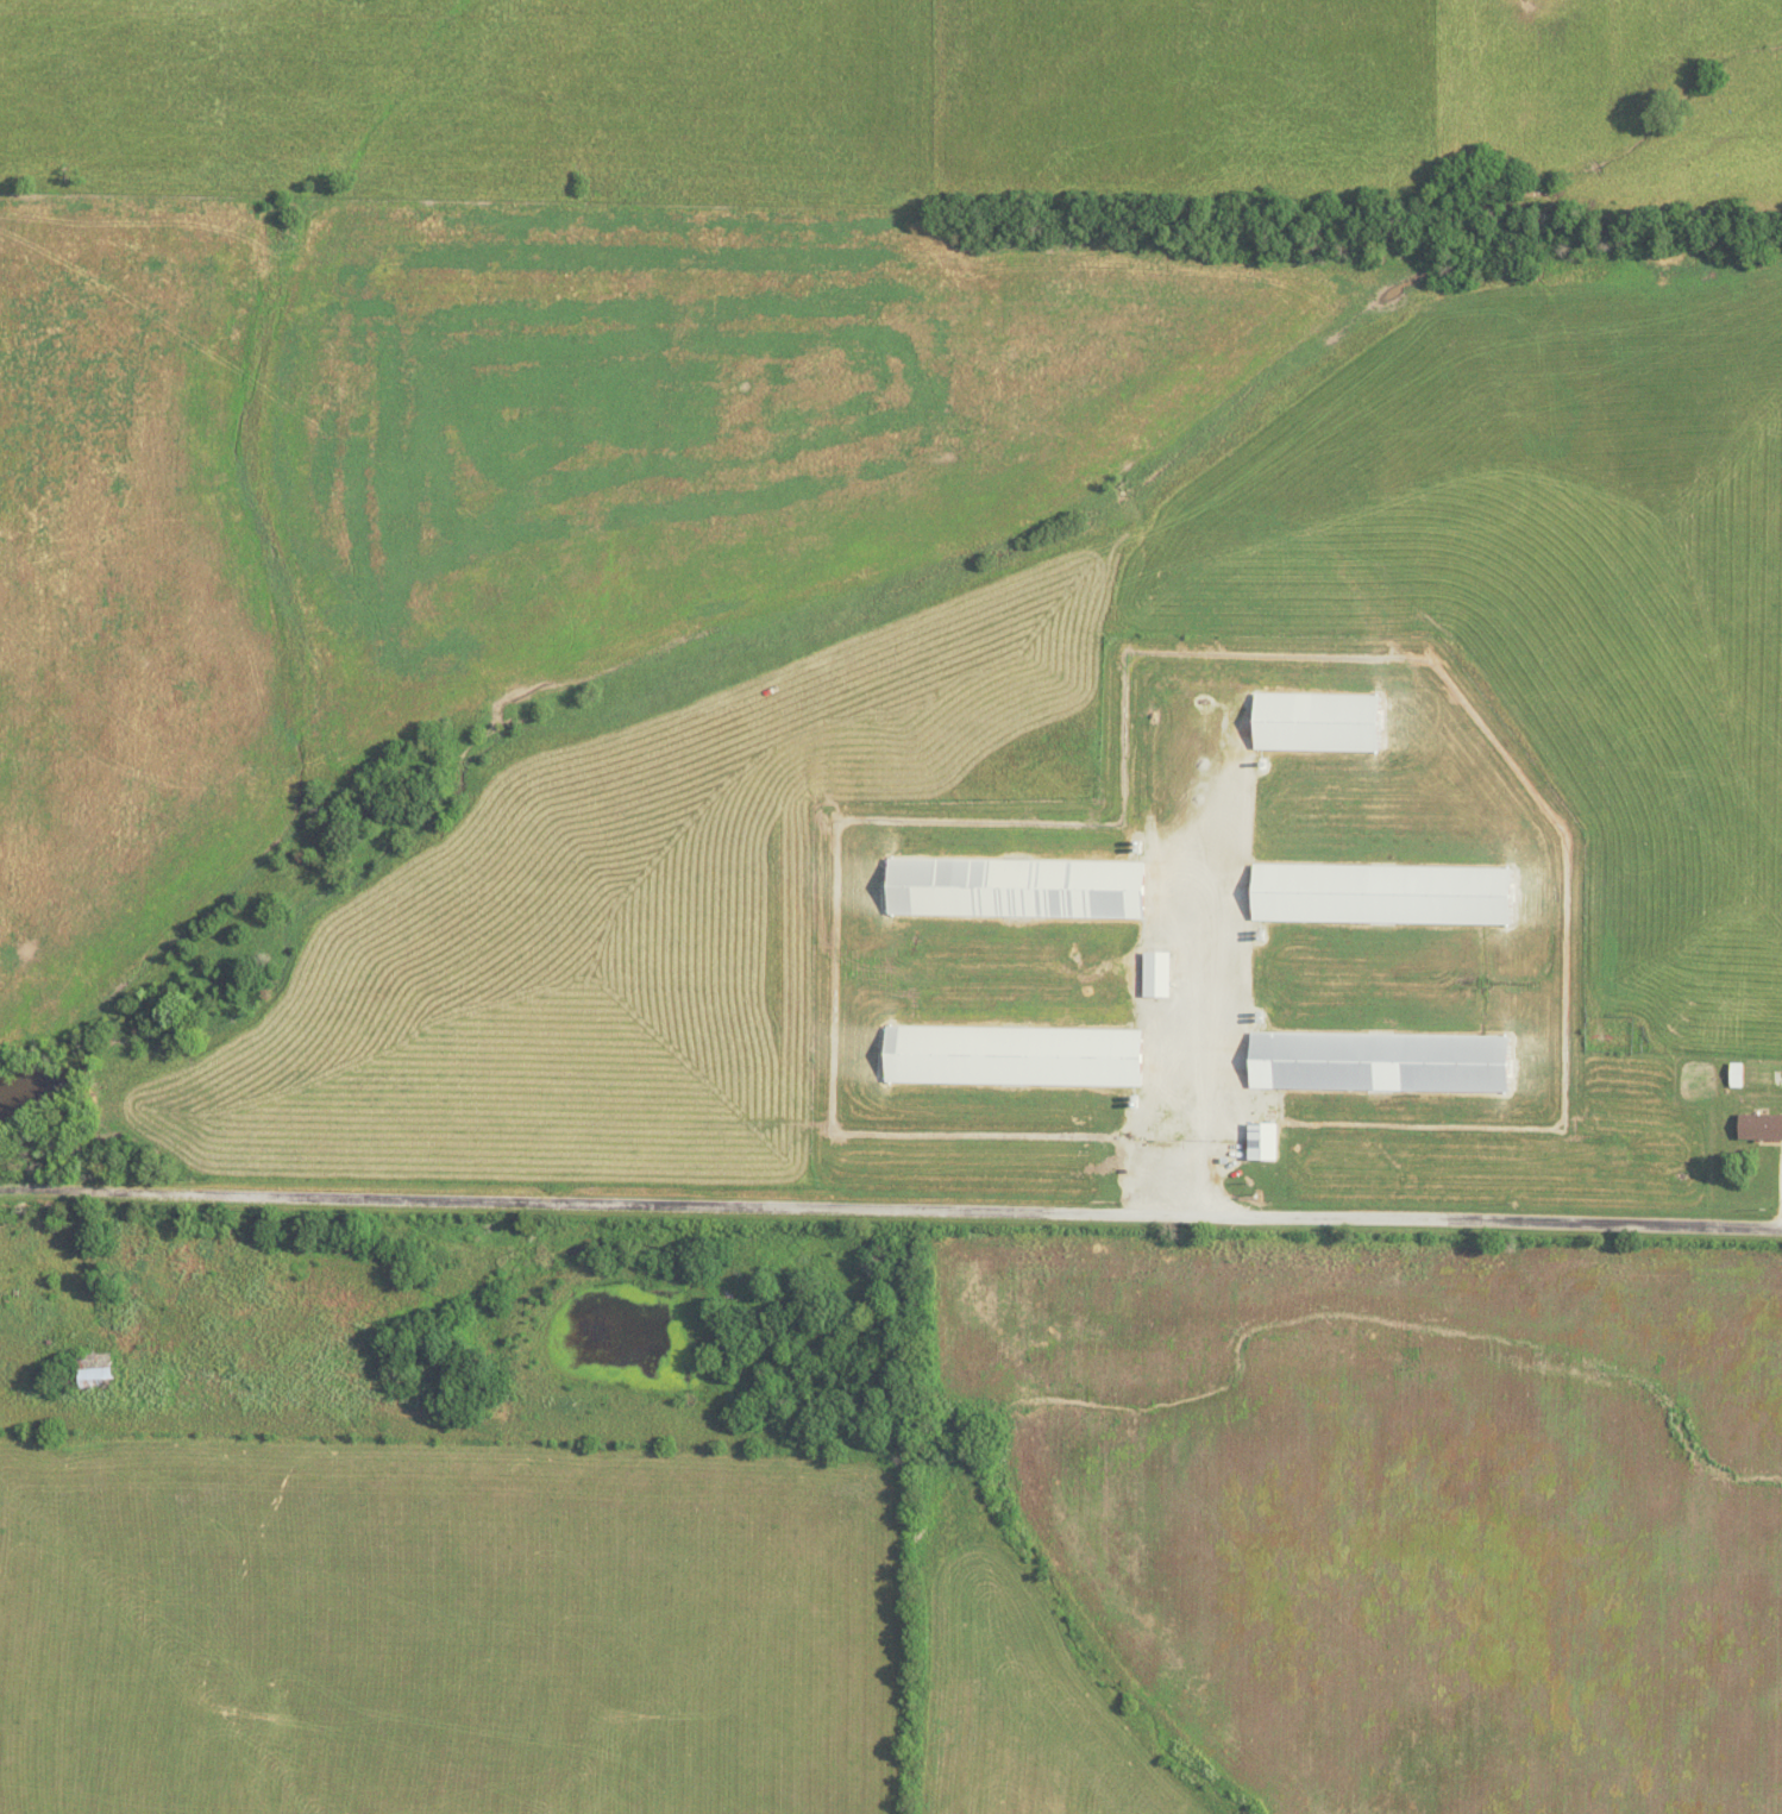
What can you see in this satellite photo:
building: (1312, 722)
building: (1012, 887)
building: (1378, 893)
building: (1154, 974)
building: (1009, 1056)
building: (1376, 1061)
building: (1734, 1075)
building: (1757, 1126)
building: (1261, 1141)
road: (890, 1209)
building: (87, 1373)

